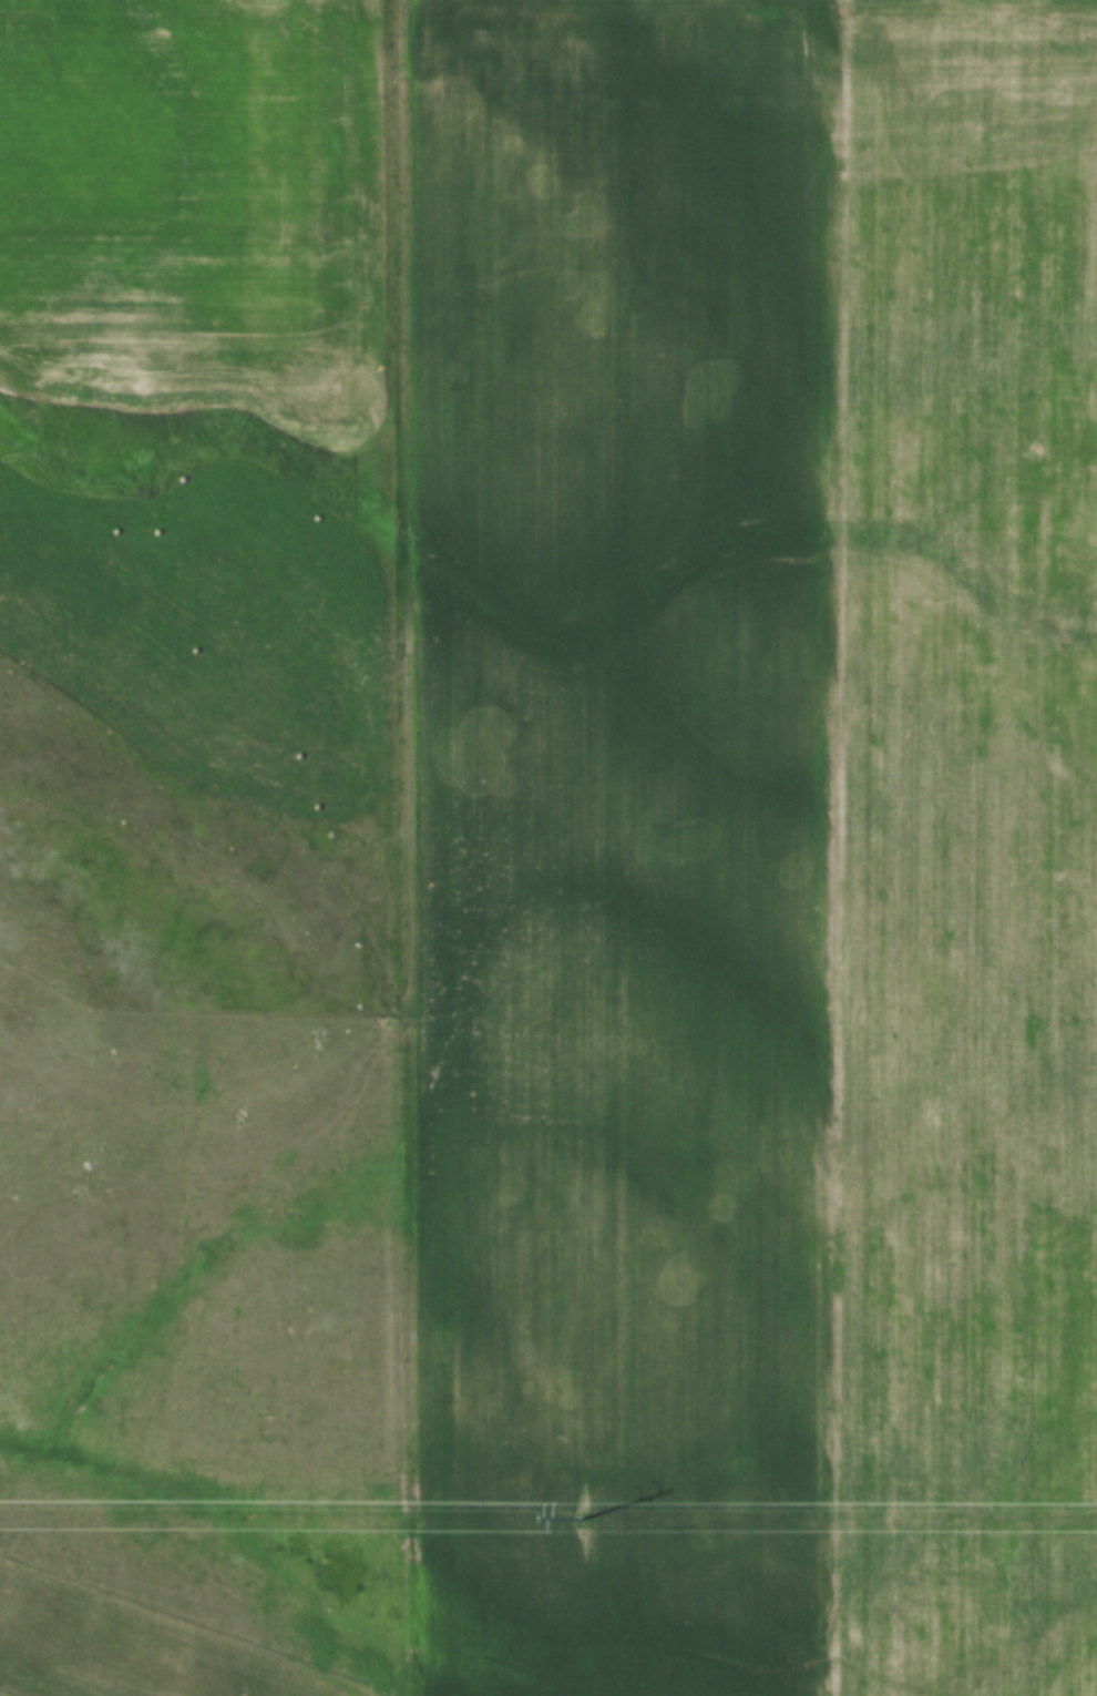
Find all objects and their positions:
road: (410, 848)
power tower: (570, 1519)

